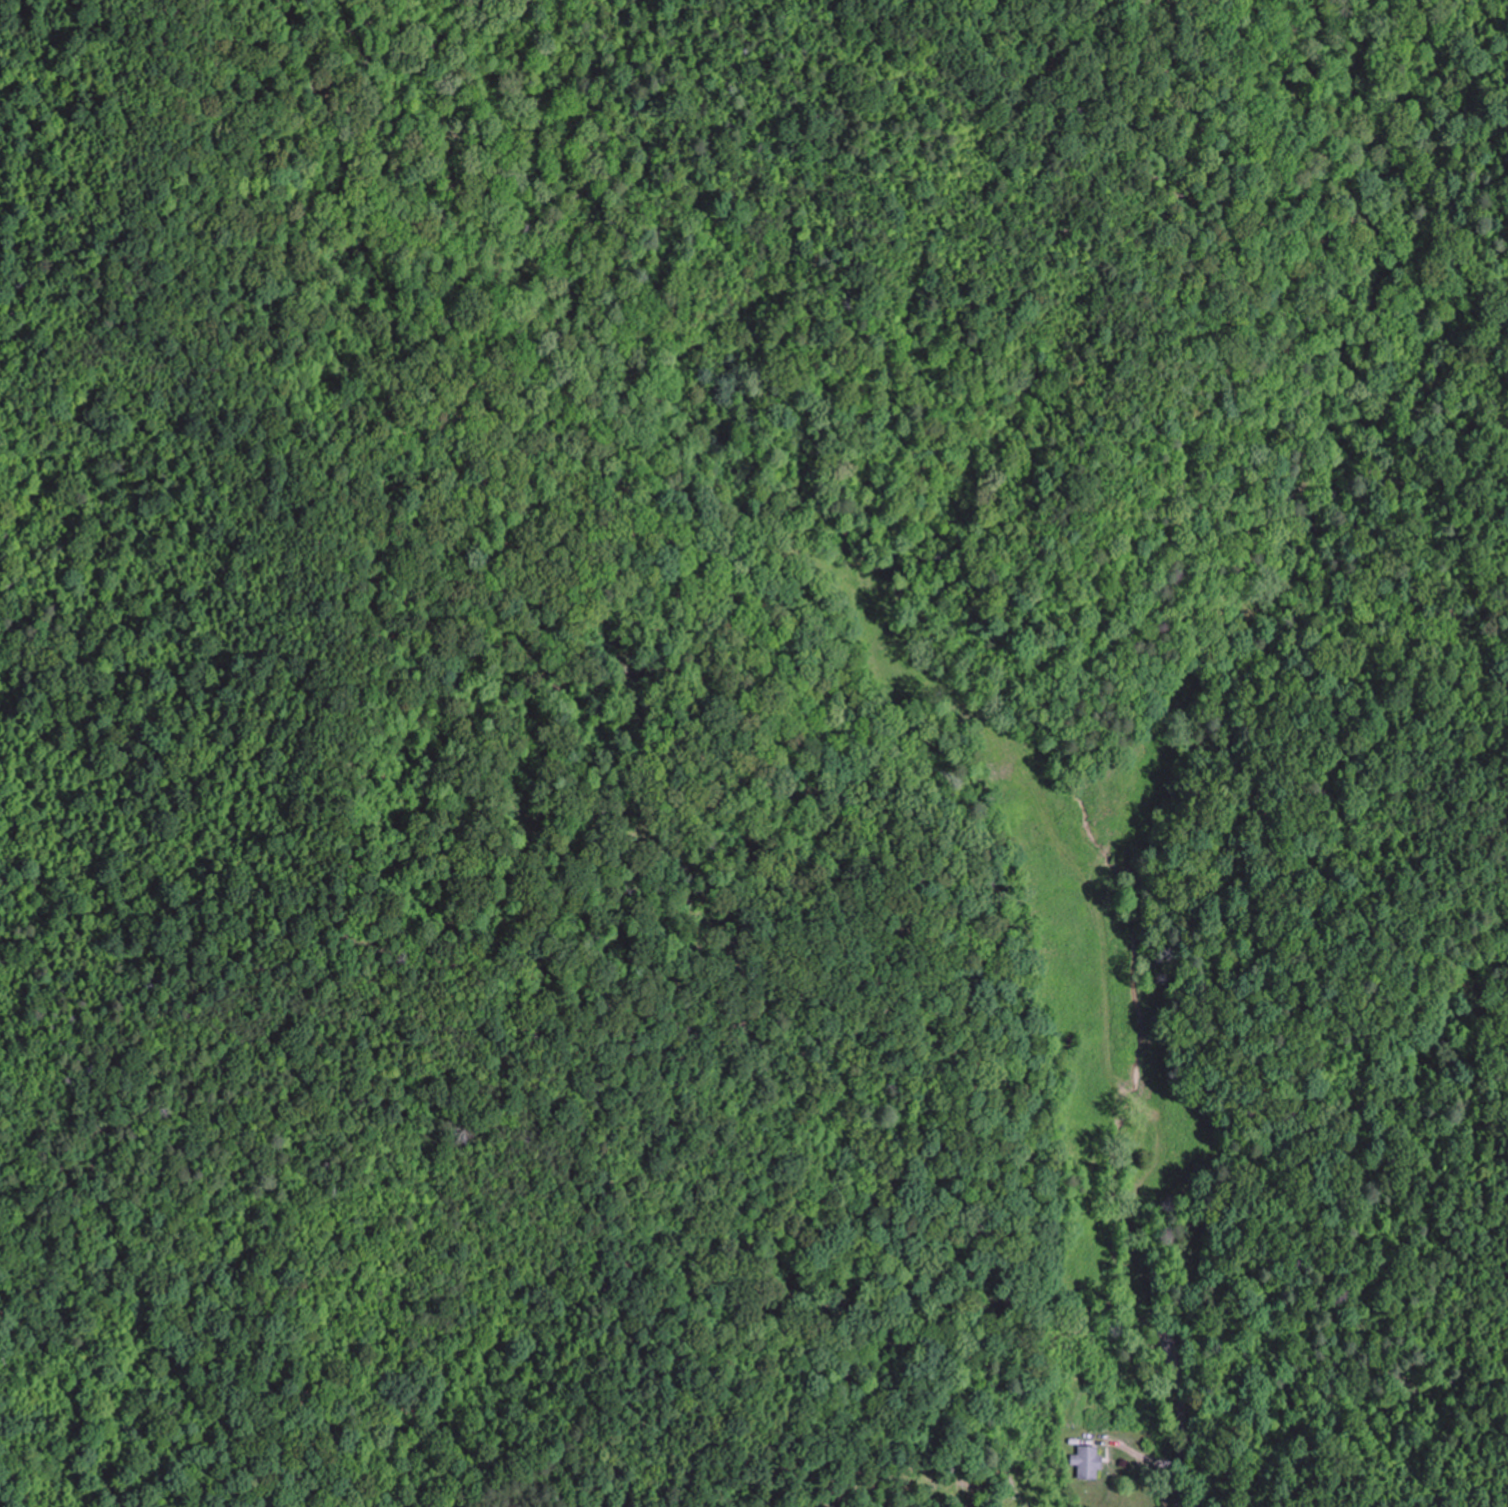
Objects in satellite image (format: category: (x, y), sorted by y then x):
road: (1175, 1453)
building: (1086, 1461)

